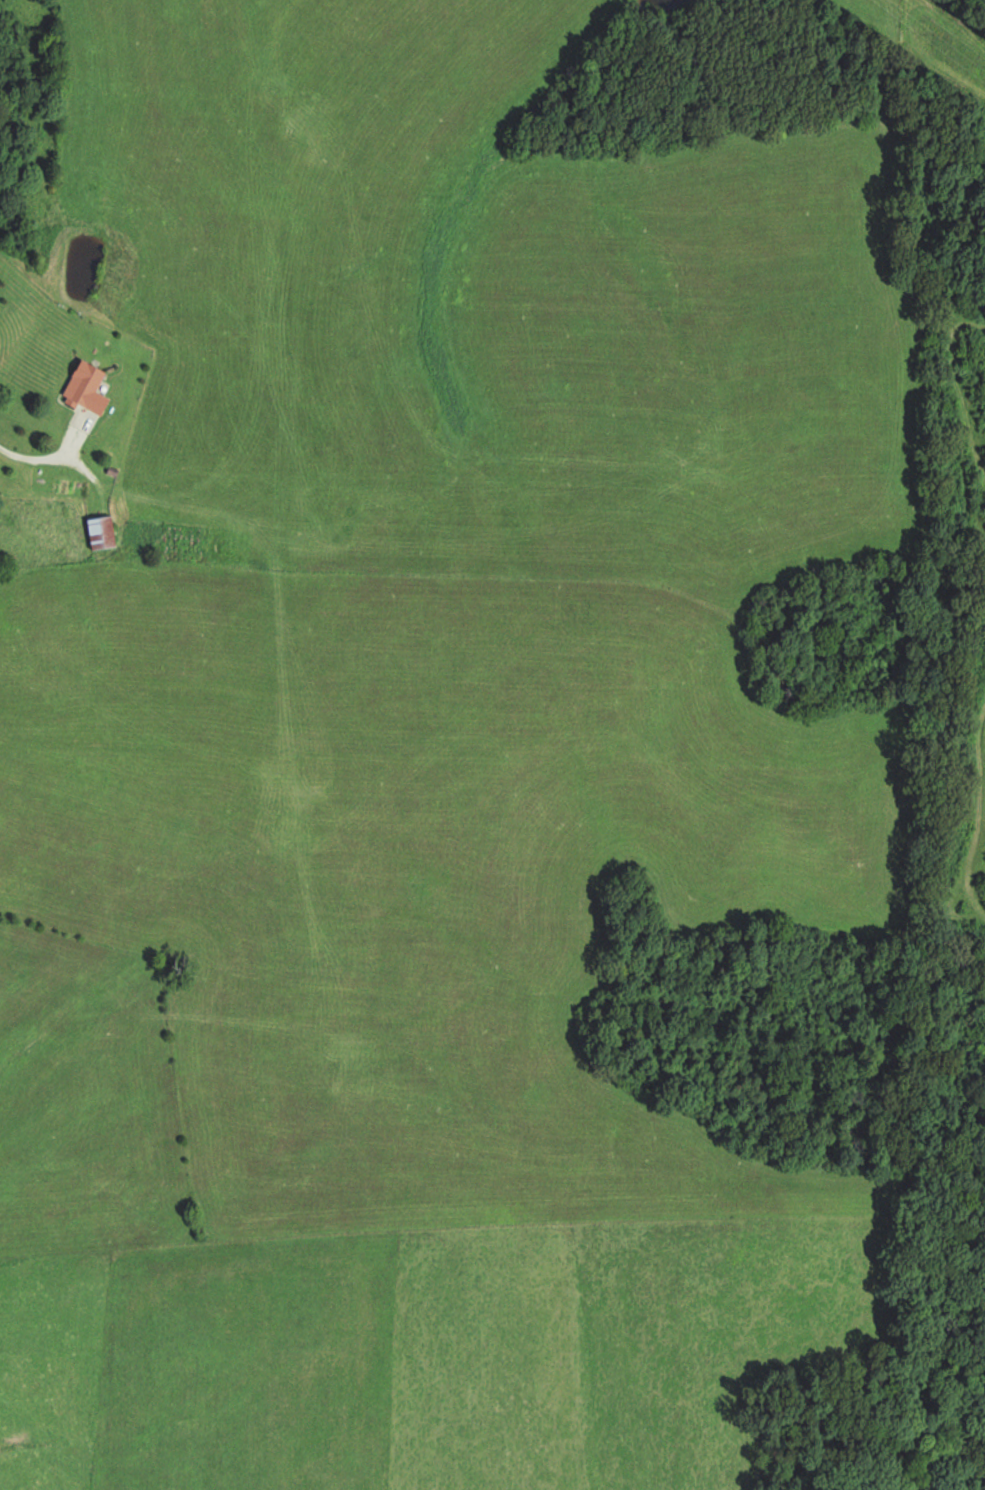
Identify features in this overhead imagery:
building: (82, 389)
road: (0, 438)
building: (98, 532)

